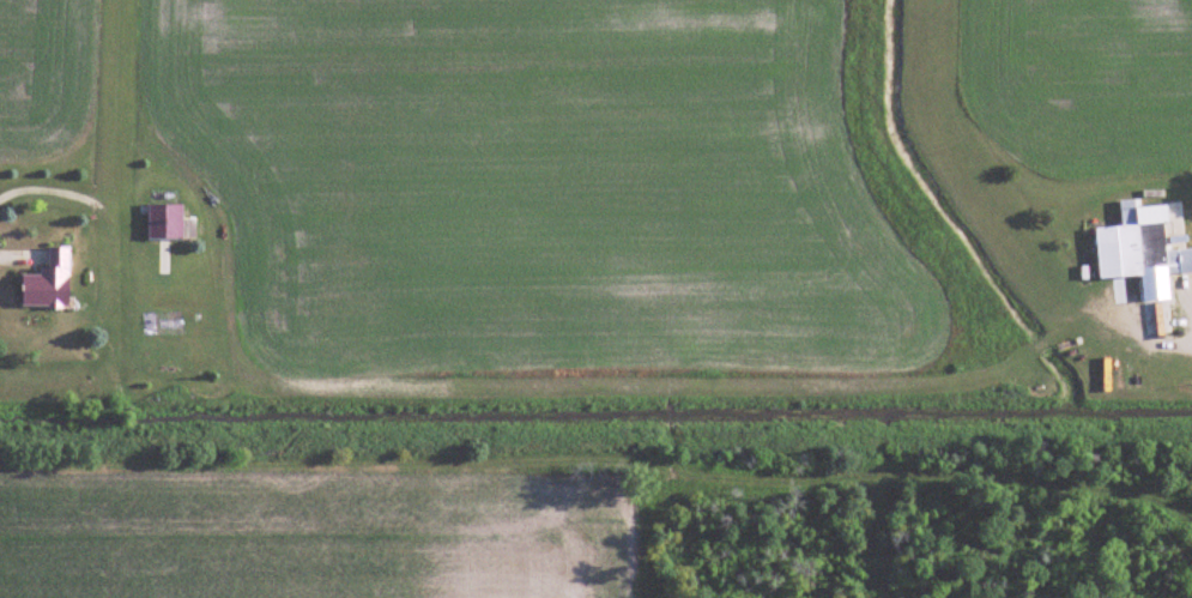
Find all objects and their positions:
airport taxiway: (119, 171)
airport taxiway: (974, 180)
road: (49, 186)
building: (168, 223)
building: (1145, 248)
road: (8, 253)
building: (50, 282)
road: (516, 391)

